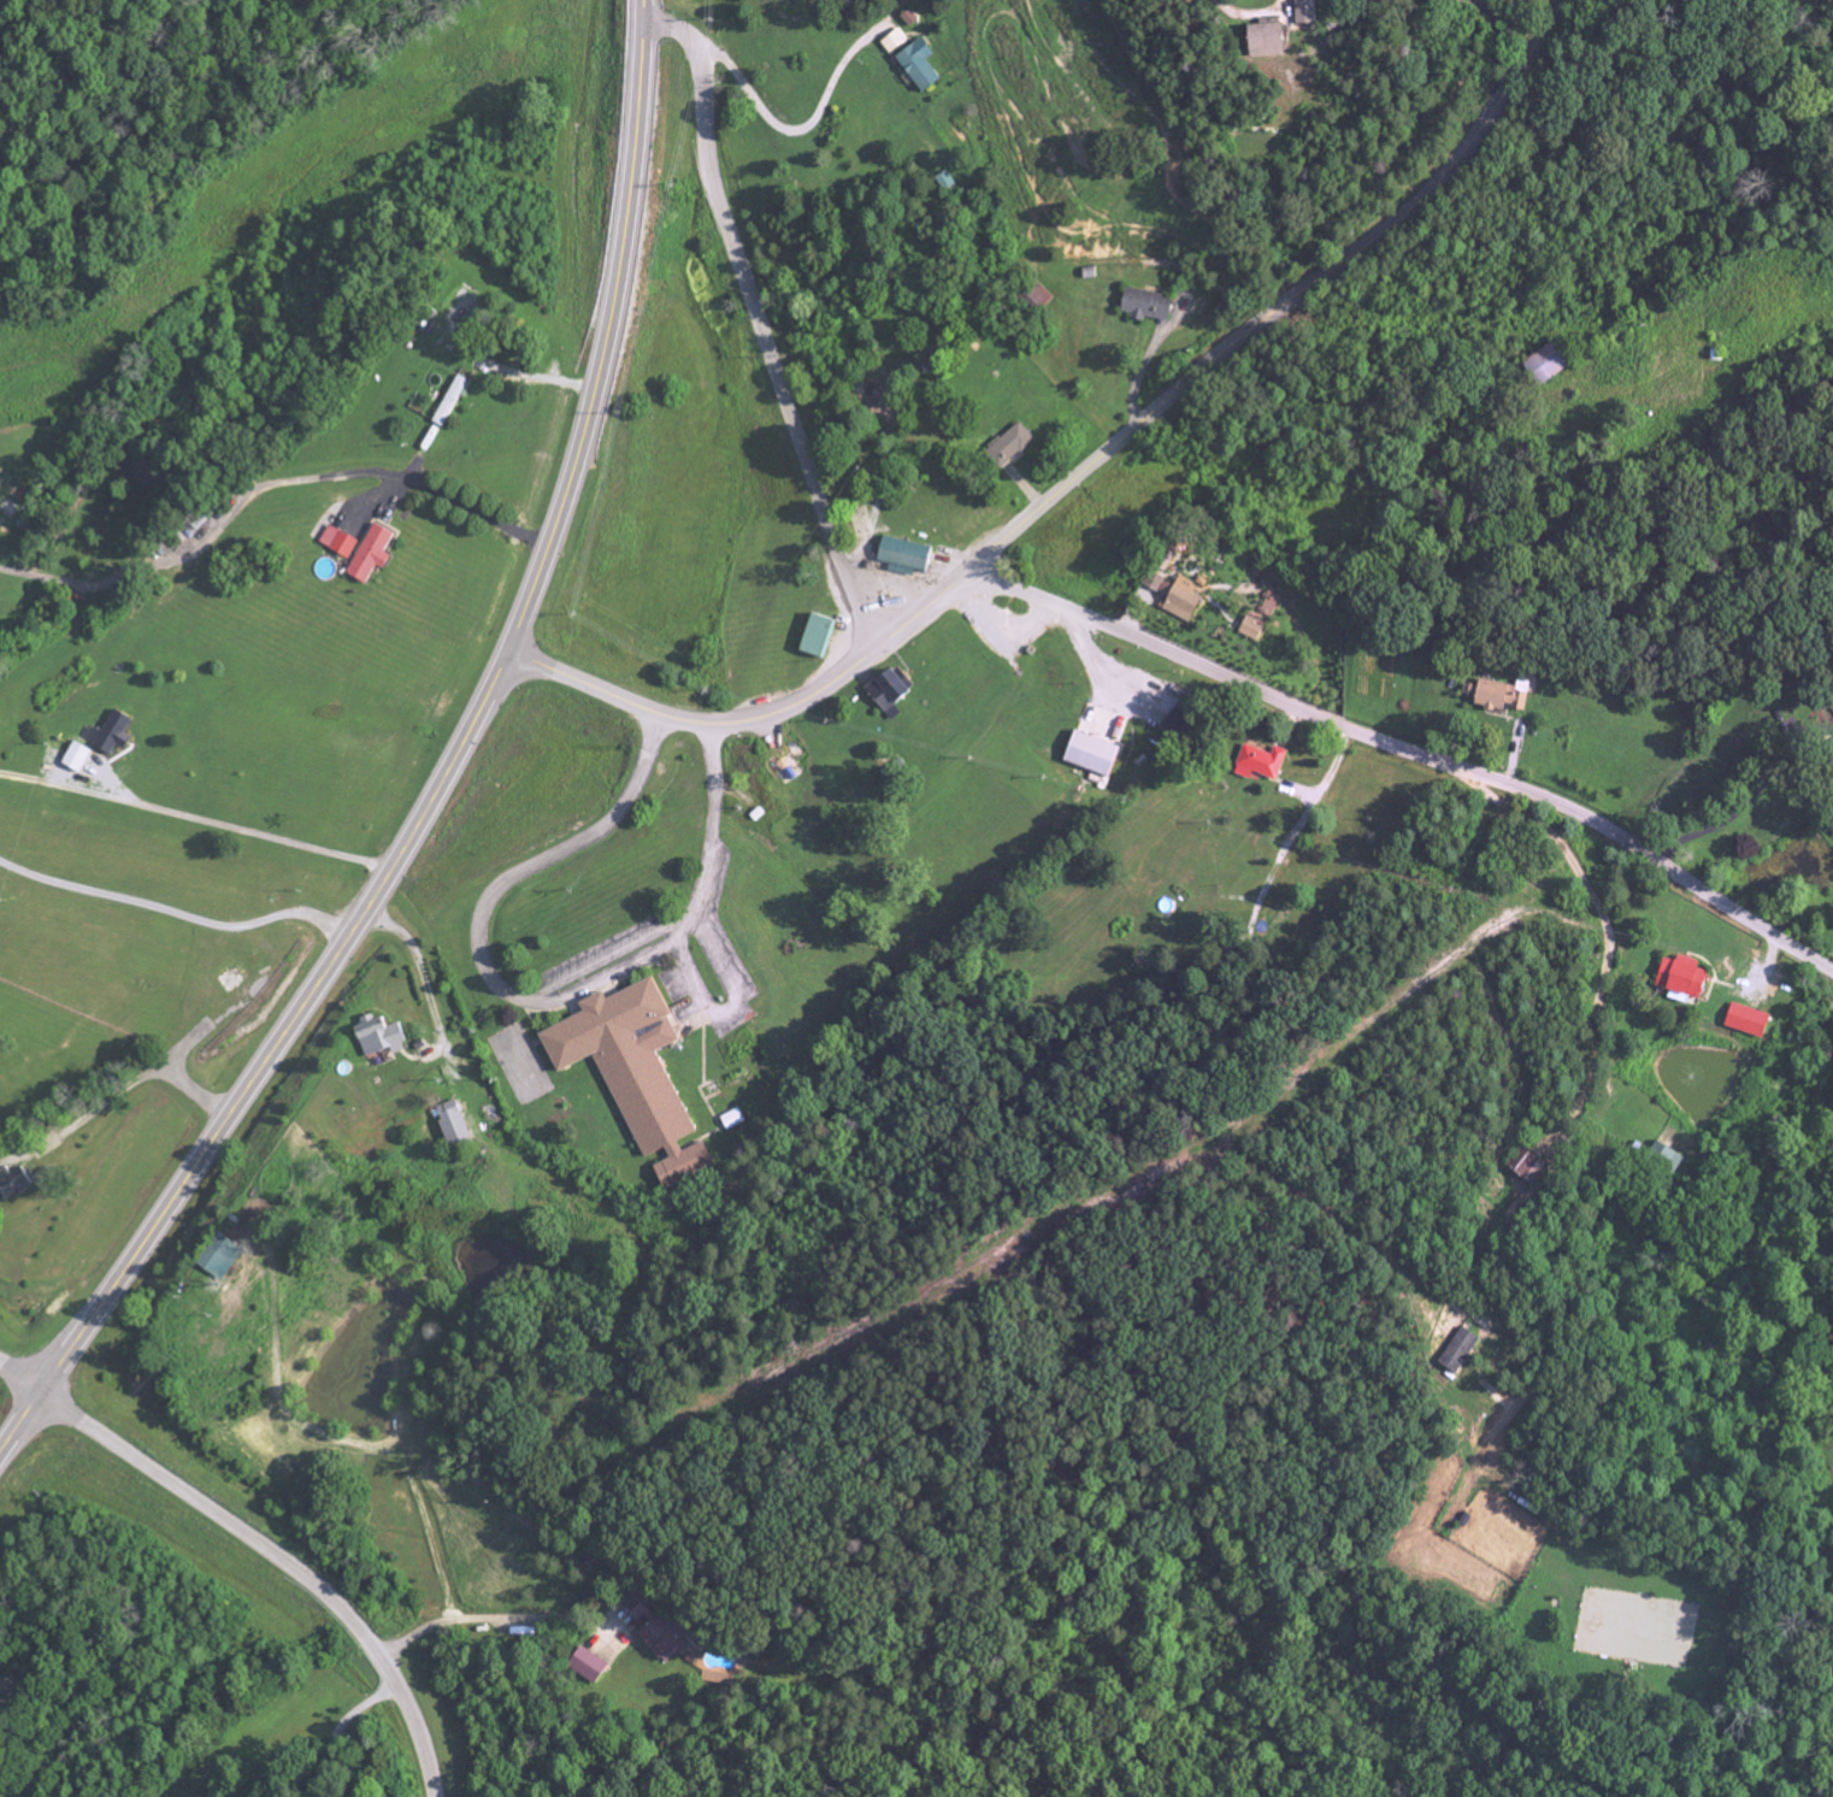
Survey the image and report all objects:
building: (1304, 11)
building: (1263, 37)
building: (892, 41)
road: (1504, 48)
building: (916, 65)
road: (788, 134)
road: (1290, 301)
building: (1143, 304)
road: (758, 320)
road: (608, 332)
building: (1544, 364)
road: (527, 376)
building: (450, 401)
building: (874, 401)
building: (1007, 446)
road: (387, 475)
building: (323, 520)
building: (338, 542)
building: (371, 553)
building: (902, 555)
building: (1163, 556)
building: (1173, 595)
building: (1268, 603)
building: (1250, 628)
building: (815, 636)
building: (888, 691)
building: (1499, 695)
road: (758, 719)
building: (1168, 725)
building: (111, 733)
building: (1831, 746)
road: (1410, 752)
building: (1088, 754)
building: (73, 758)
building: (1259, 764)
road: (1747, 795)
road: (196, 814)
road: (175, 915)
road: (1557, 917)
road: (414, 971)
building: (1680, 978)
building: (229, 980)
road: (521, 991)
building: (1746, 1020)
building: (378, 1037)
road: (265, 1059)
building: (631, 1072)
road: (112, 1094)
building: (731, 1120)
building: (452, 1125)
building: (1663, 1159)
building: (1523, 1162)
building: (10, 1183)
building: (217, 1257)
building: (1458, 1351)
road: (22, 1378)
road: (281, 1559)
building: (635, 1607)
road: (488, 1616)
building: (588, 1665)
road: (10, 1686)
road: (337, 1727)

